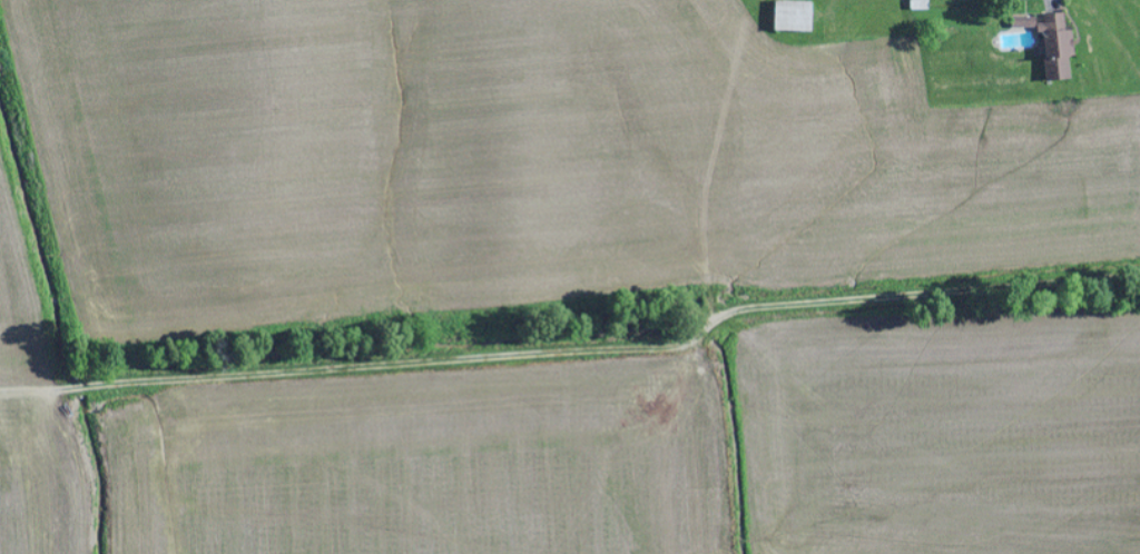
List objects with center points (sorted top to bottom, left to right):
building: (787, 16)
building: (1045, 44)

